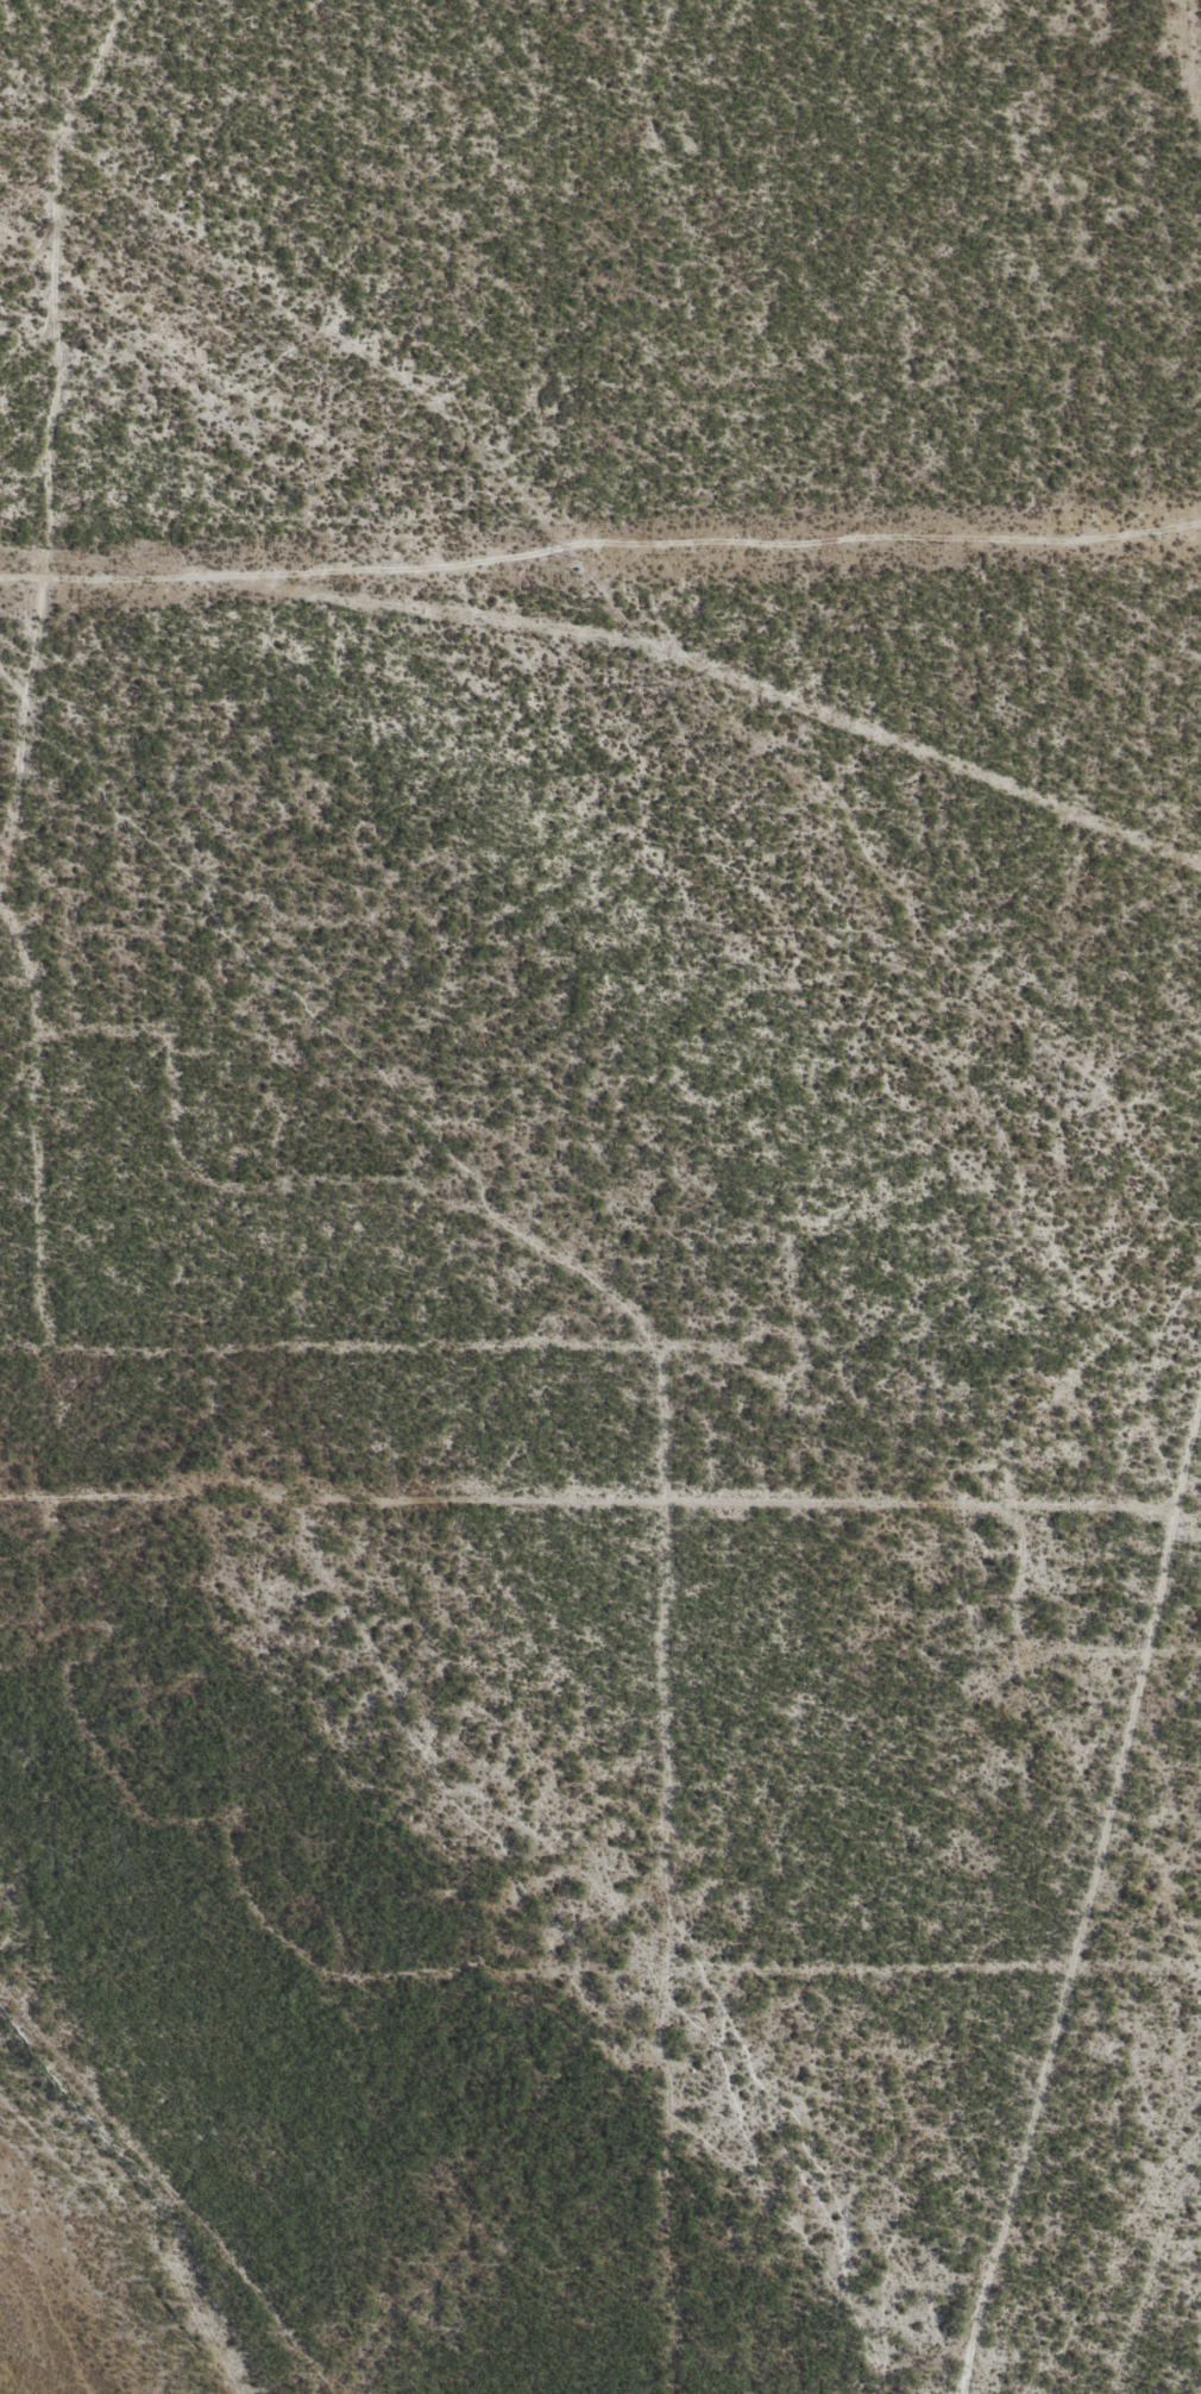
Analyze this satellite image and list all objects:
road: (1197, 14)
power tower: (937, 538)
power tower: (584, 556)
power tower: (151, 577)
road: (600, 1462)
road: (1150, 2224)

